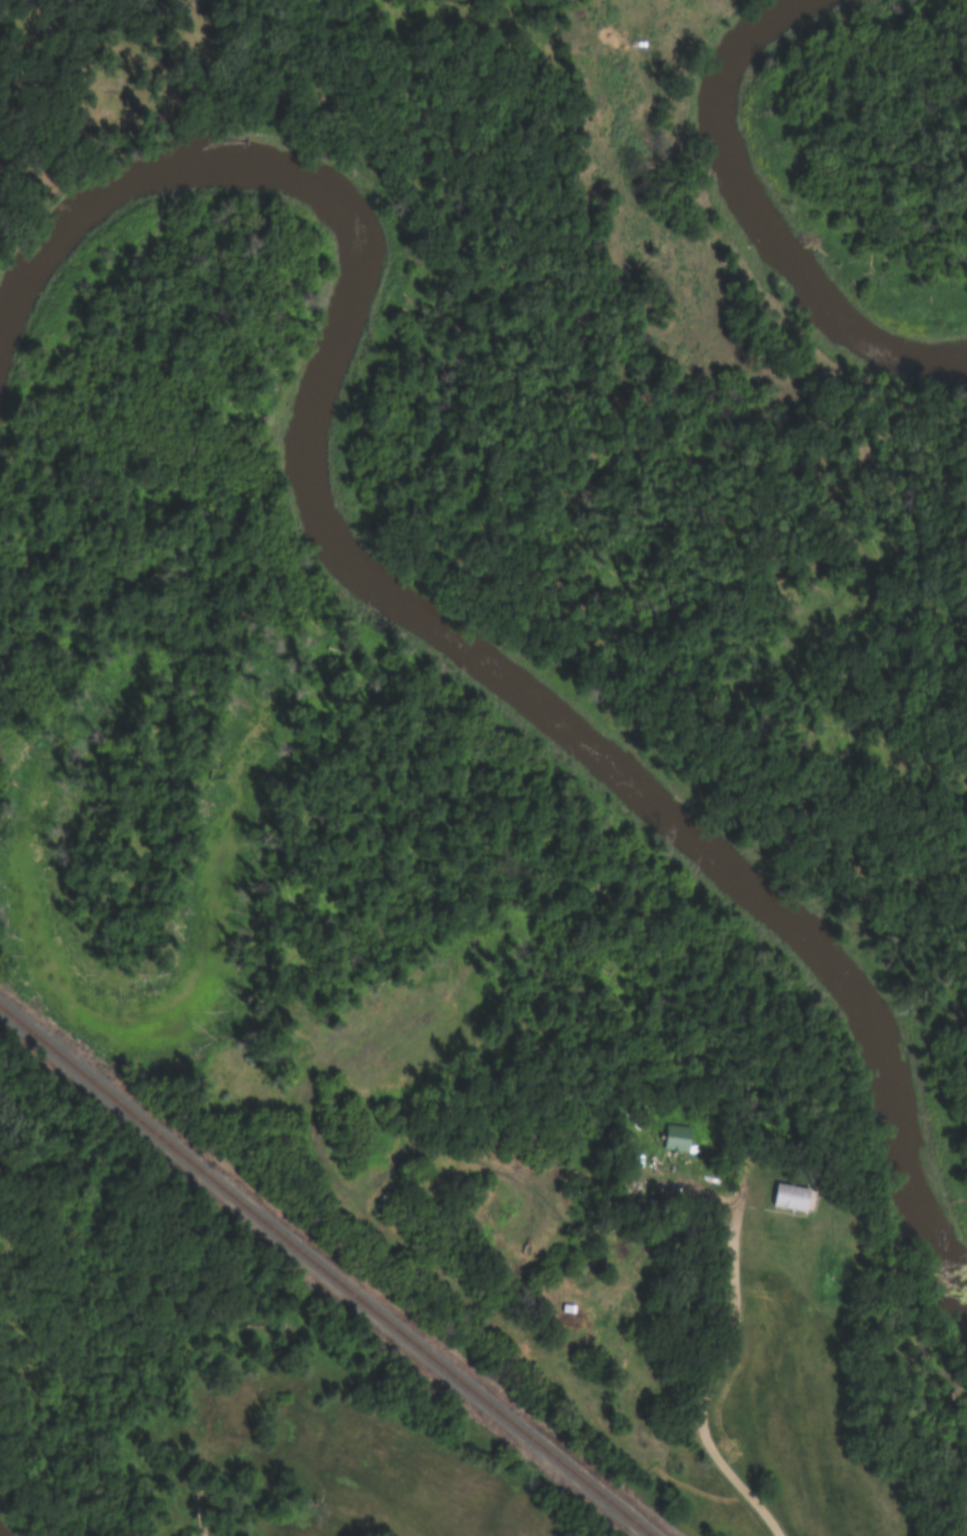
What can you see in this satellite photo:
river: (754, 217)
river: (417, 615)
building: (676, 1138)
railway: (324, 1271)
road: (736, 1334)
building: (240, 1408)
road: (204, 1472)
building: (266, 1527)

